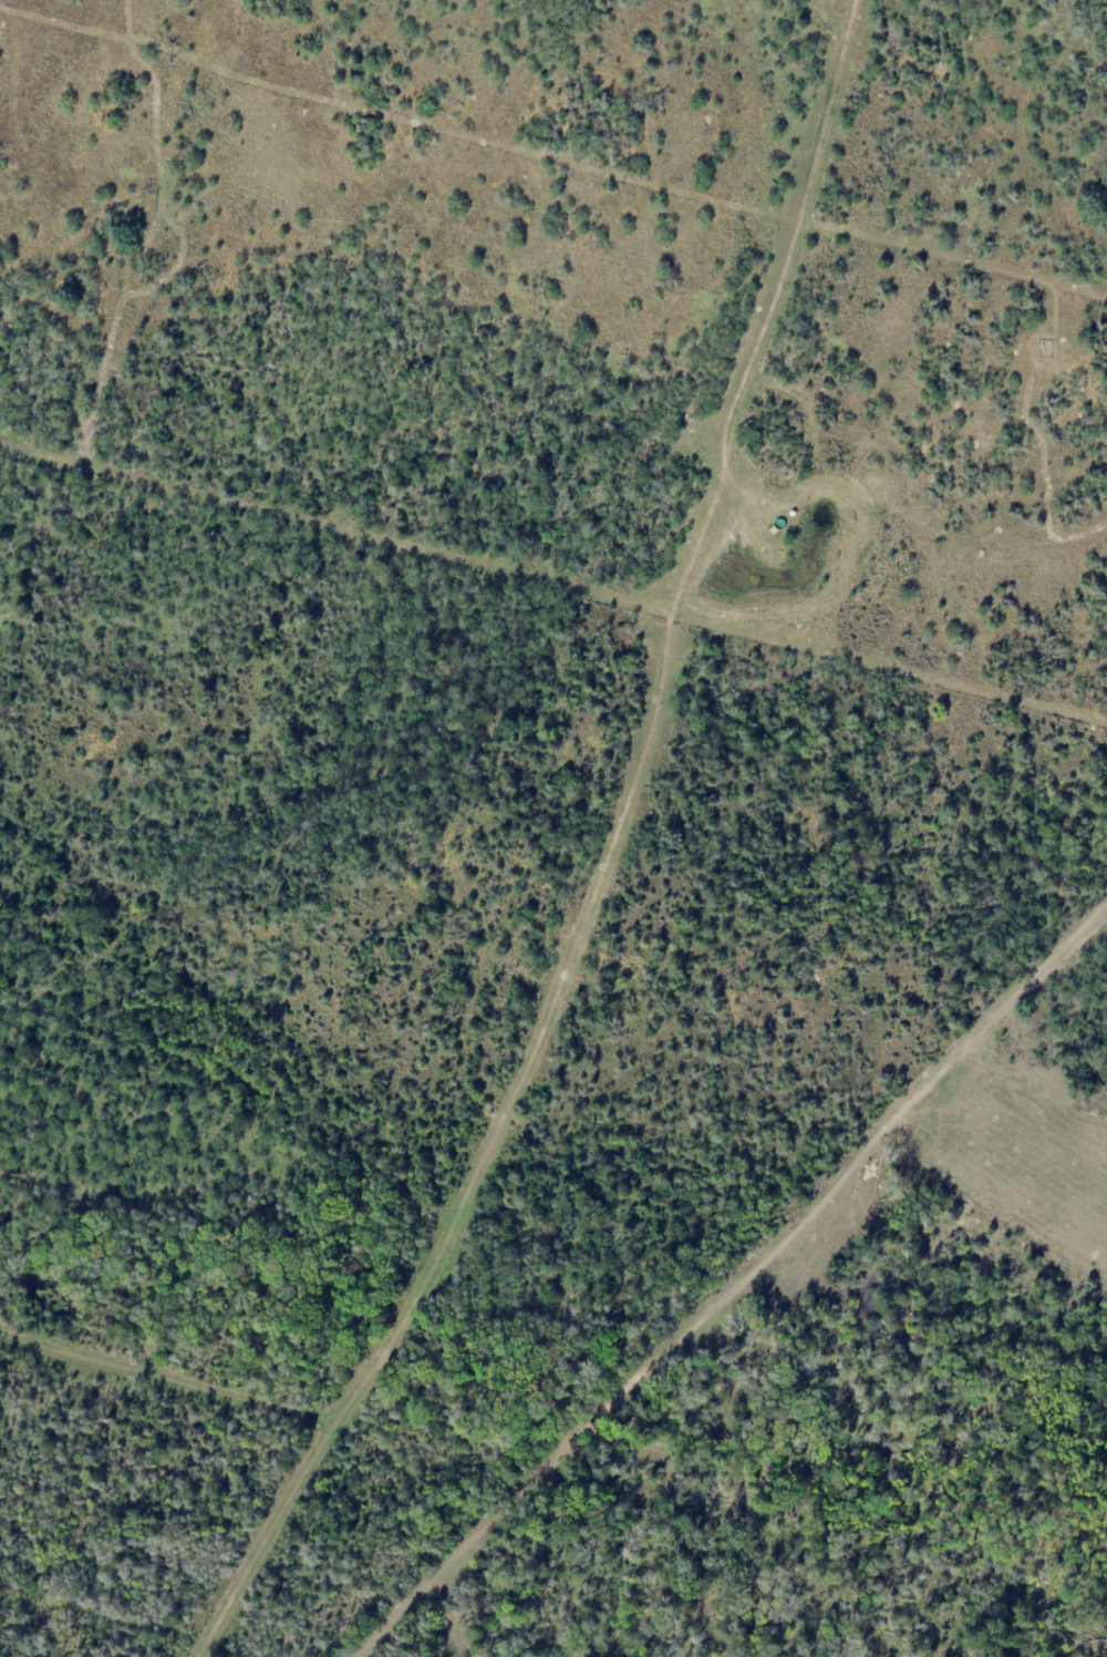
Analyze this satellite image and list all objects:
park: (1042, 347)

